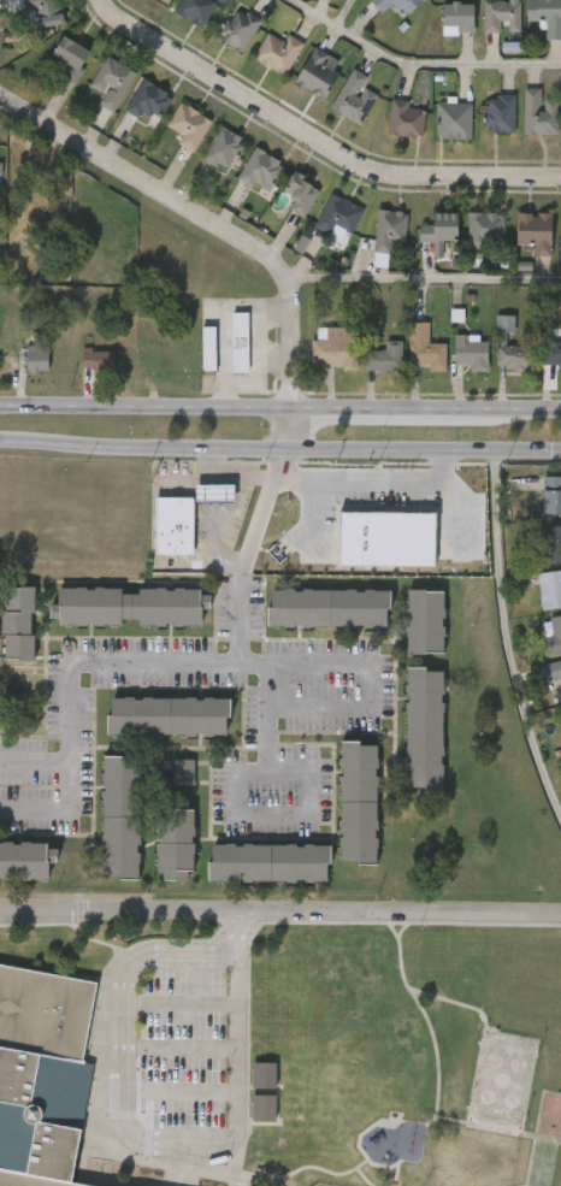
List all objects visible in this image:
building: (396, 5)
building: (195, 10)
building: (42, 12)
building: (501, 16)
building: (545, 16)
building: (457, 17)
building: (238, 29)
building: (278, 52)
building: (70, 57)
road: (423, 59)
building: (318, 73)
building: (112, 82)
building: (354, 98)
building: (148, 101)
building: (500, 113)
building: (539, 113)
building: (407, 119)
building: (454, 120)
building: (189, 128)
road: (314, 138)
building: (223, 148)
building: (1, 169)
building: (261, 171)
building: (300, 194)
building: (338, 217)
road: (219, 225)
building: (438, 228)
building: (485, 229)
building: (389, 230)
building: (535, 231)
road: (423, 282)
building: (241, 343)
building: (337, 346)
building: (424, 348)
building: (208, 350)
building: (470, 353)
building: (553, 354)
building: (513, 356)
building: (384, 358)
building: (37, 360)
building: (99, 361)
road: (279, 403)
road: (279, 448)
road: (229, 477)
building: (364, 491)
building: (214, 495)
gas station: (214, 495)
building: (551, 495)
building: (176, 527)
building: (386, 539)
building: (550, 544)
building: (549, 589)
building: (131, 607)
building: (330, 608)
building: (426, 622)
building: (18, 624)
building: (553, 635)
road: (508, 636)
road: (182, 663)
building: (553, 672)
road: (370, 708)
building: (167, 716)
building: (425, 730)
building: (183, 773)
building: (358, 803)
road: (54, 809)
building: (122, 818)
road: (268, 824)
building: (175, 840)
building: (25, 861)
building: (267, 863)
road: (280, 910)
road: (319, 922)
road: (392, 931)
road: (236, 934)
road: (181, 1004)
road: (423, 1015)
road: (179, 1049)
park: (433, 1056)
building: (264, 1075)
building: (41, 1078)
road: (179, 1093)
building: (264, 1109)
park: (549, 1115)
road: (136, 1133)
road: (359, 1172)
road: (526, 1185)

